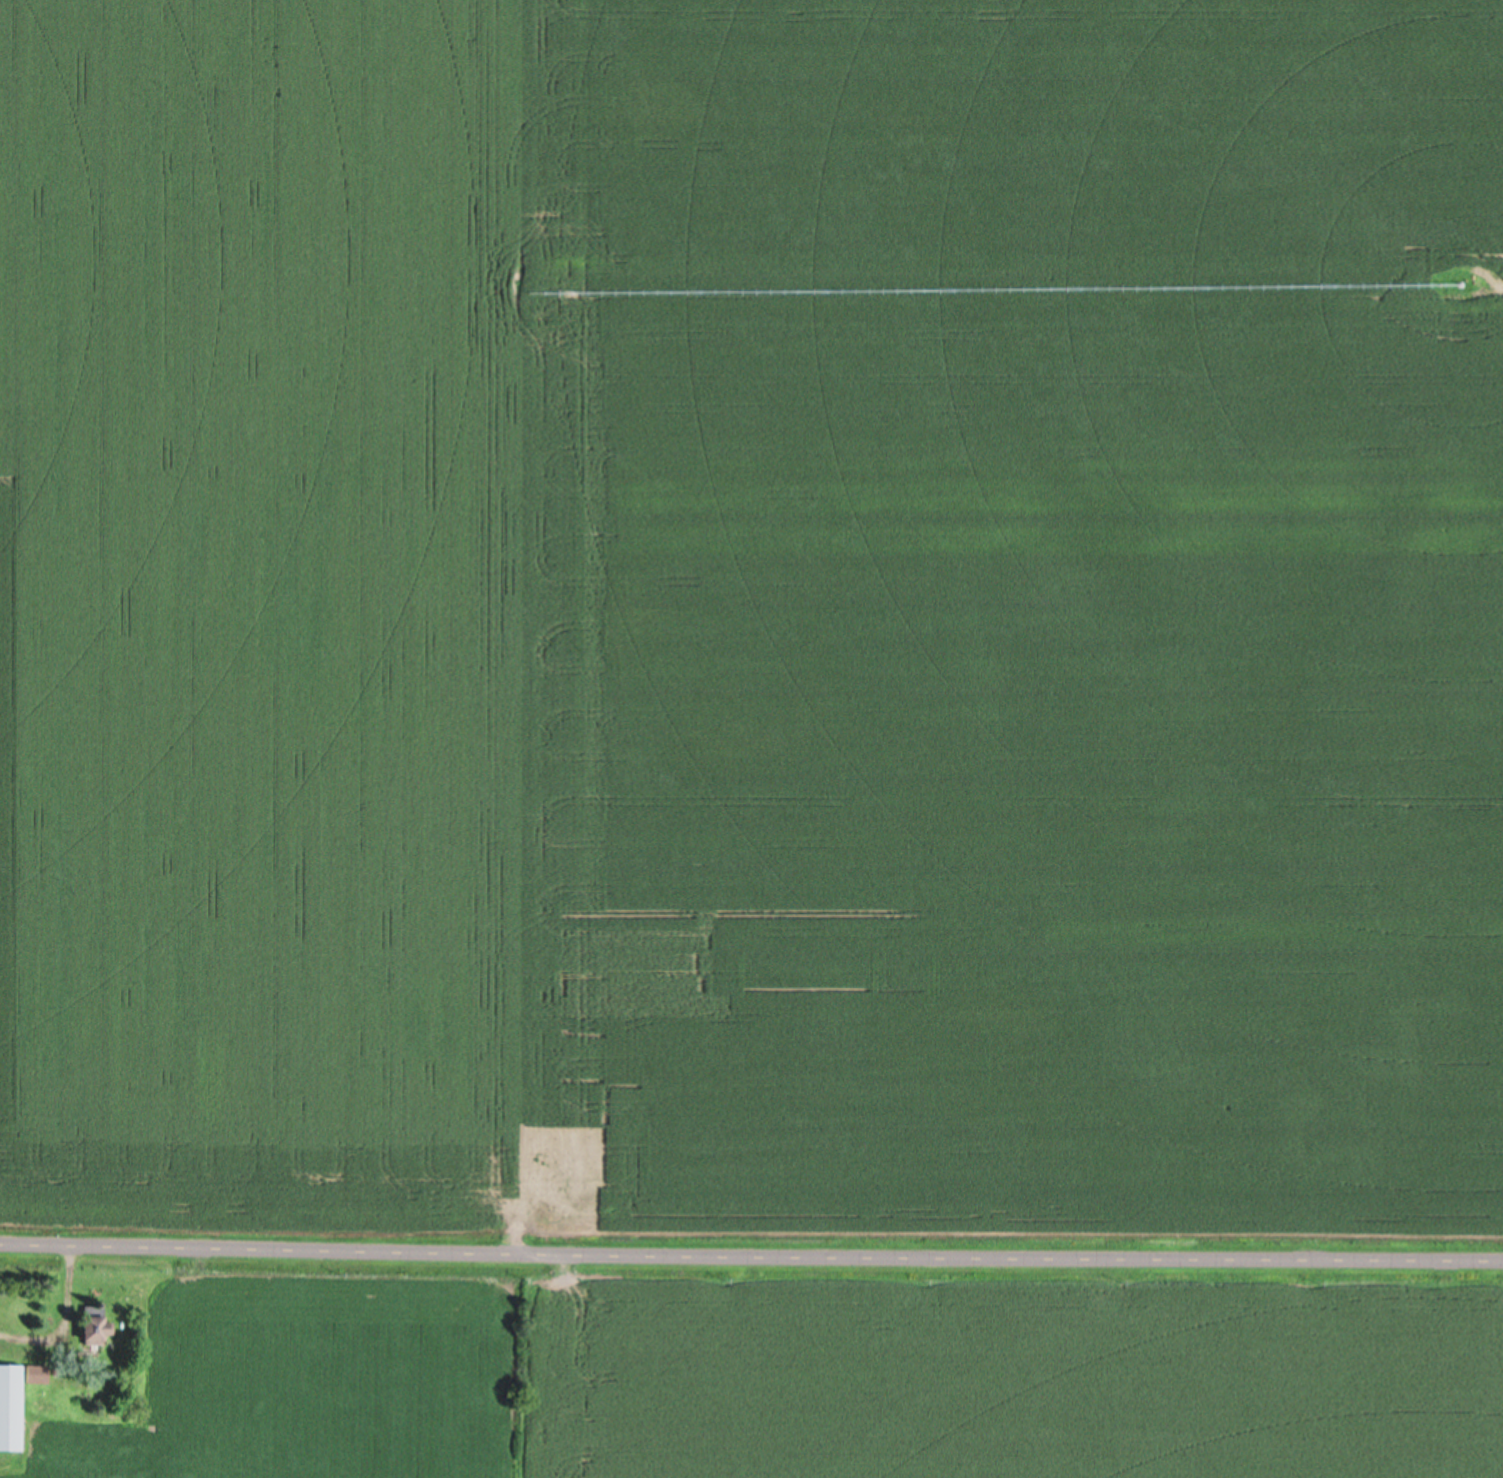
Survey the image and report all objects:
road: (751, 1260)
building: (89, 1328)
building: (11, 1406)

